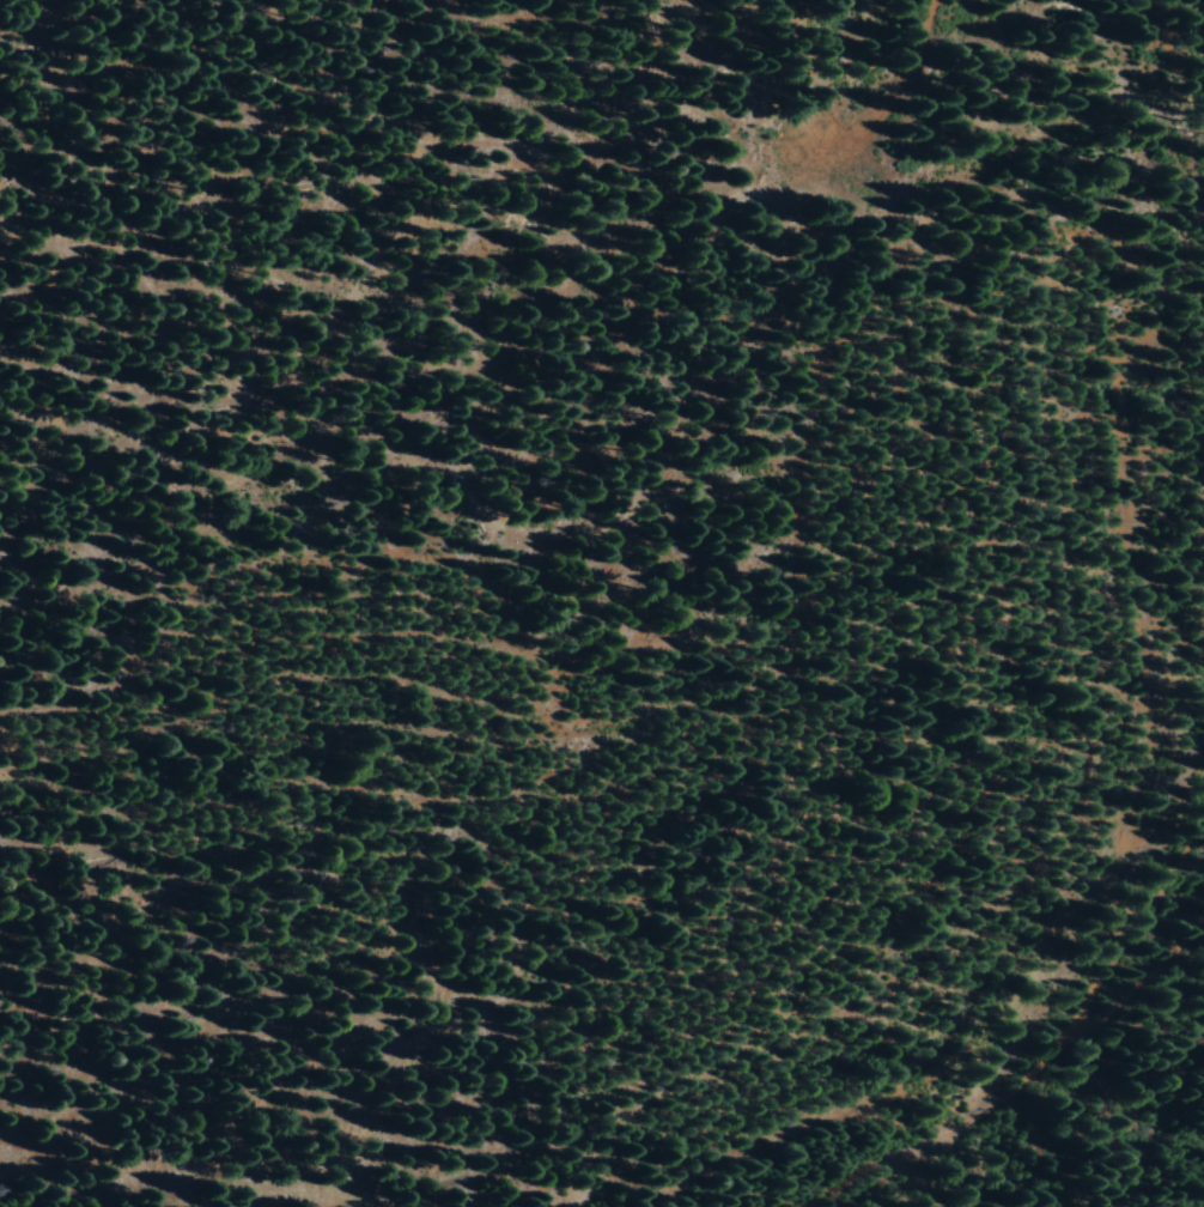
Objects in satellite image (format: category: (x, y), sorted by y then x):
road: (1198, 20)
road: (1068, 1097)

